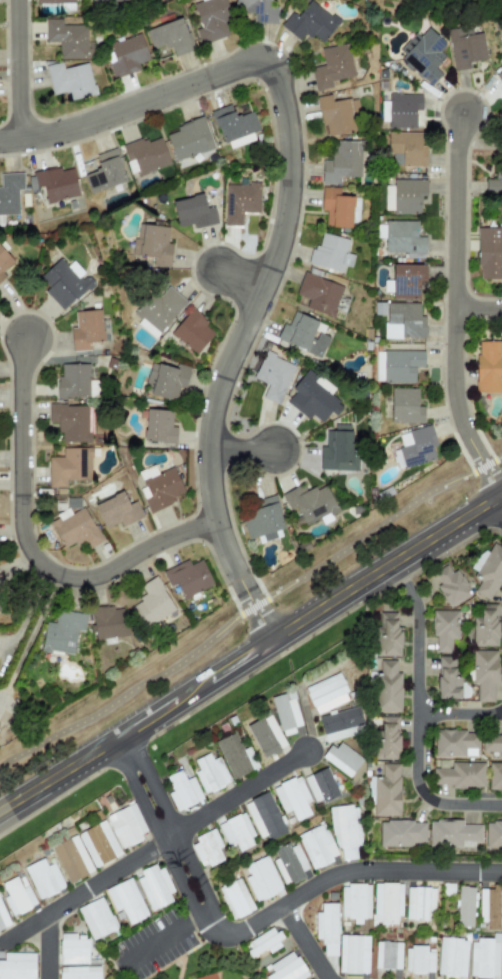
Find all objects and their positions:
building: (54, 1)
building: (101, 1)
building: (258, 10)
building: (211, 20)
building: (310, 22)
building: (169, 36)
building: (67, 38)
building: (464, 47)
building: (422, 54)
building: (125, 55)
building: (332, 66)
road: (18, 69)
building: (499, 76)
building: (70, 80)
building: (402, 110)
building: (337, 115)
building: (233, 123)
building: (189, 138)
building: (405, 148)
building: (341, 162)
building: (104, 172)
building: (494, 182)
building: (56, 183)
building: (9, 193)
building: (404, 195)
building: (240, 202)
building: (339, 207)
building: (193, 212)
road: (283, 219)
building: (403, 238)
building: (153, 245)
building: (330, 253)
building: (489, 253)
building: (5, 264)
road: (240, 279)
building: (406, 280)
building: (63, 283)
building: (318, 293)
road: (454, 306)
road: (478, 307)
building: (158, 310)
building: (403, 320)
building: (85, 329)
building: (191, 331)
building: (302, 334)
building: (400, 365)
building: (488, 366)
building: (273, 376)
building: (72, 380)
building: (166, 381)
building: (312, 399)
building: (405, 405)
building: (71, 422)
building: (158, 426)
building: (339, 449)
road: (241, 450)
building: (69, 466)
building: (147, 472)
building: (161, 489)
road: (500, 496)
building: (310, 503)
building: (116, 510)
building: (262, 518)
building: (75, 528)
road: (30, 547)
building: (488, 570)
building: (187, 577)
road: (401, 578)
building: (450, 584)
building: (0, 585)
building: (151, 603)
building: (0, 607)
road: (249, 608)
road: (29, 612)
park: (246, 612)
building: (108, 622)
building: (485, 626)
building: (444, 628)
building: (62, 632)
building: (387, 633)
road: (31, 638)
road: (251, 651)
building: (484, 673)
building: (447, 678)
building: (387, 688)
building: (326, 693)
road: (459, 711)
building: (285, 713)
building: (339, 723)
road: (416, 735)
building: (265, 736)
building: (386, 738)
building: (453, 742)
building: (492, 743)
building: (235, 755)
building: (340, 758)
building: (210, 773)
building: (458, 774)
building: (495, 776)
building: (320, 785)
building: (182, 790)
building: (386, 791)
building: (292, 797)
building: (263, 817)
building: (126, 825)
building: (344, 829)
building: (236, 831)
building: (400, 832)
building: (453, 833)
building: (493, 834)
building: (99, 844)
building: (317, 845)
road: (154, 847)
building: (206, 849)
building: (71, 858)
building: (289, 862)
road: (184, 868)
road: (387, 870)
building: (43, 878)
building: (261, 878)
building: (153, 887)
building: (17, 896)
building: (235, 898)
building: (126, 900)
building: (354, 901)
building: (386, 902)
building: (419, 903)
building: (464, 906)
building: (489, 907)
building: (3, 918)
building: (96, 918)
building: (326, 928)
road: (163, 936)
building: (263, 941)
road: (304, 942)
road: (48, 946)
building: (72, 948)
building: (353, 954)
building: (387, 955)
building: (451, 957)
building: (483, 957)
building: (419, 959)
building: (17, 966)
building: (286, 968)
building: (501, 969)
building: (79, 972)
building: (206, 976)
building: (501, 977)

